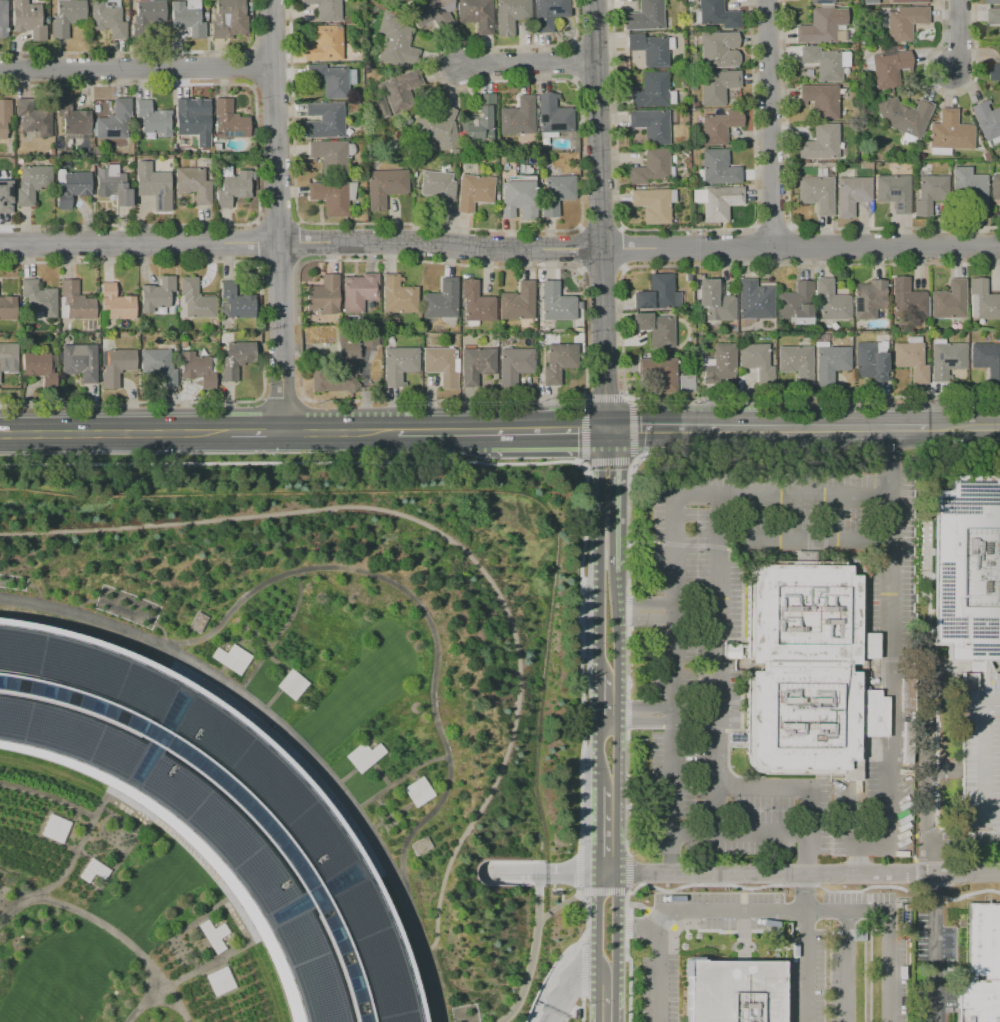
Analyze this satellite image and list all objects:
building: (820, 1)
building: (908, 1)
building: (993, 2)
building: (326, 9)
building: (149, 11)
building: (430, 12)
building: (549, 13)
building: (476, 14)
building: (717, 14)
building: (511, 15)
building: (994, 15)
building: (644, 16)
building: (67, 17)
building: (187, 17)
building: (3, 18)
building: (107, 18)
building: (28, 19)
building: (228, 19)
building: (904, 22)
building: (823, 27)
road: (960, 33)
building: (395, 41)
building: (325, 44)
building: (649, 49)
building: (718, 49)
road: (526, 62)
building: (823, 62)
building: (889, 66)
building: (994, 71)
road: (137, 73)
building: (329, 80)
building: (716, 86)
building: (400, 90)
building: (651, 90)
building: (820, 99)
building: (553, 114)
building: (903, 115)
building: (478, 116)
building: (4, 117)
building: (72, 117)
building: (517, 117)
building: (34, 118)
building: (153, 118)
building: (189, 118)
building: (114, 120)
building: (228, 120)
building: (324, 120)
building: (987, 121)
road: (770, 123)
building: (651, 125)
building: (719, 126)
building: (437, 130)
building: (950, 131)
building: (820, 142)
building: (331, 156)
building: (650, 168)
building: (718, 168)
building: (32, 183)
building: (152, 184)
building: (193, 184)
building: (112, 185)
building: (385, 186)
building: (995, 186)
building: (71, 188)
building: (232, 188)
building: (971, 188)
building: (439, 189)
building: (893, 191)
building: (474, 192)
building: (557, 193)
building: (816, 193)
building: (929, 193)
building: (851, 194)
building: (330, 197)
building: (4, 198)
building: (519, 199)
building: (718, 201)
building: (652, 205)
road: (600, 214)
road: (277, 215)
road: (499, 250)
building: (359, 291)
building: (656, 293)
building: (157, 294)
building: (324, 294)
building: (398, 295)
building: (907, 298)
building: (753, 299)
building: (869, 299)
building: (984, 299)
building: (193, 300)
building: (442, 300)
building: (949, 300)
building: (236, 301)
building: (518, 301)
building: (714, 301)
building: (831, 301)
building: (74, 302)
building: (117, 302)
building: (476, 302)
building: (556, 302)
building: (43, 303)
building: (795, 304)
building: (579, 305)
building: (7, 307)
building: (880, 315)
building: (917, 326)
building: (659, 330)
building: (373, 338)
building: (8, 357)
building: (238, 360)
building: (987, 360)
building: (832, 361)
building: (913, 361)
building: (948, 361)
building: (872, 362)
building: (82, 363)
building: (561, 363)
building: (759, 363)
building: (798, 364)
building: (721, 365)
building: (402, 366)
building: (445, 366)
building: (480, 366)
building: (119, 367)
building: (161, 367)
building: (517, 367)
building: (341, 369)
building: (42, 370)
building: (201, 370)
building: (662, 374)
building: (689, 385)
road: (963, 427)
road: (871, 428)
road: (711, 429)
road: (548, 430)
traffic signals: (607, 430)
road: (257, 431)
road: (340, 431)
road: (443, 431)
road: (115, 433)
road: (886, 481)
road: (886, 487)
road: (610, 499)
road: (444, 531)
road: (806, 540)
road: (600, 552)
building: (966, 567)
road: (888, 583)
road: (673, 599)
road: (412, 600)
road: (642, 603)
road: (643, 621)
building: (198, 622)
road: (278, 624)
road: (245, 625)
road: (236, 633)
road: (615, 636)
road: (247, 637)
building: (230, 658)
road: (273, 659)
road: (200, 667)
building: (811, 671)
building: (290, 684)
road: (273, 697)
road: (599, 698)
road: (643, 706)
road: (615, 713)
road: (672, 713)
road: (643, 720)
road: (607, 721)
road: (718, 728)
road: (299, 729)
building: (357, 752)
road: (598, 753)
road: (615, 753)
building: (980, 767)
road: (401, 774)
road: (112, 784)
road: (928, 785)
building: (411, 788)
road: (672, 797)
road: (59, 801)
building: (223, 806)
road: (850, 816)
building: (49, 824)
road: (597, 830)
road: (614, 830)
road: (738, 838)
road: (851, 859)
building: (88, 867)
road: (56, 868)
road: (392, 868)
road: (806, 873)
road: (532, 874)
road: (592, 875)
road: (605, 875)
building: (554, 893)
road: (244, 911)
road: (826, 912)
road: (614, 927)
building: (208, 930)
road: (634, 930)
road: (264, 937)
road: (123, 941)
road: (937, 946)
road: (806, 947)
road: (597, 948)
road: (532, 952)
building: (979, 965)
road: (846, 967)
road: (655, 968)
building: (215, 976)
road: (575, 987)
building: (733, 991)
road: (613, 1000)

